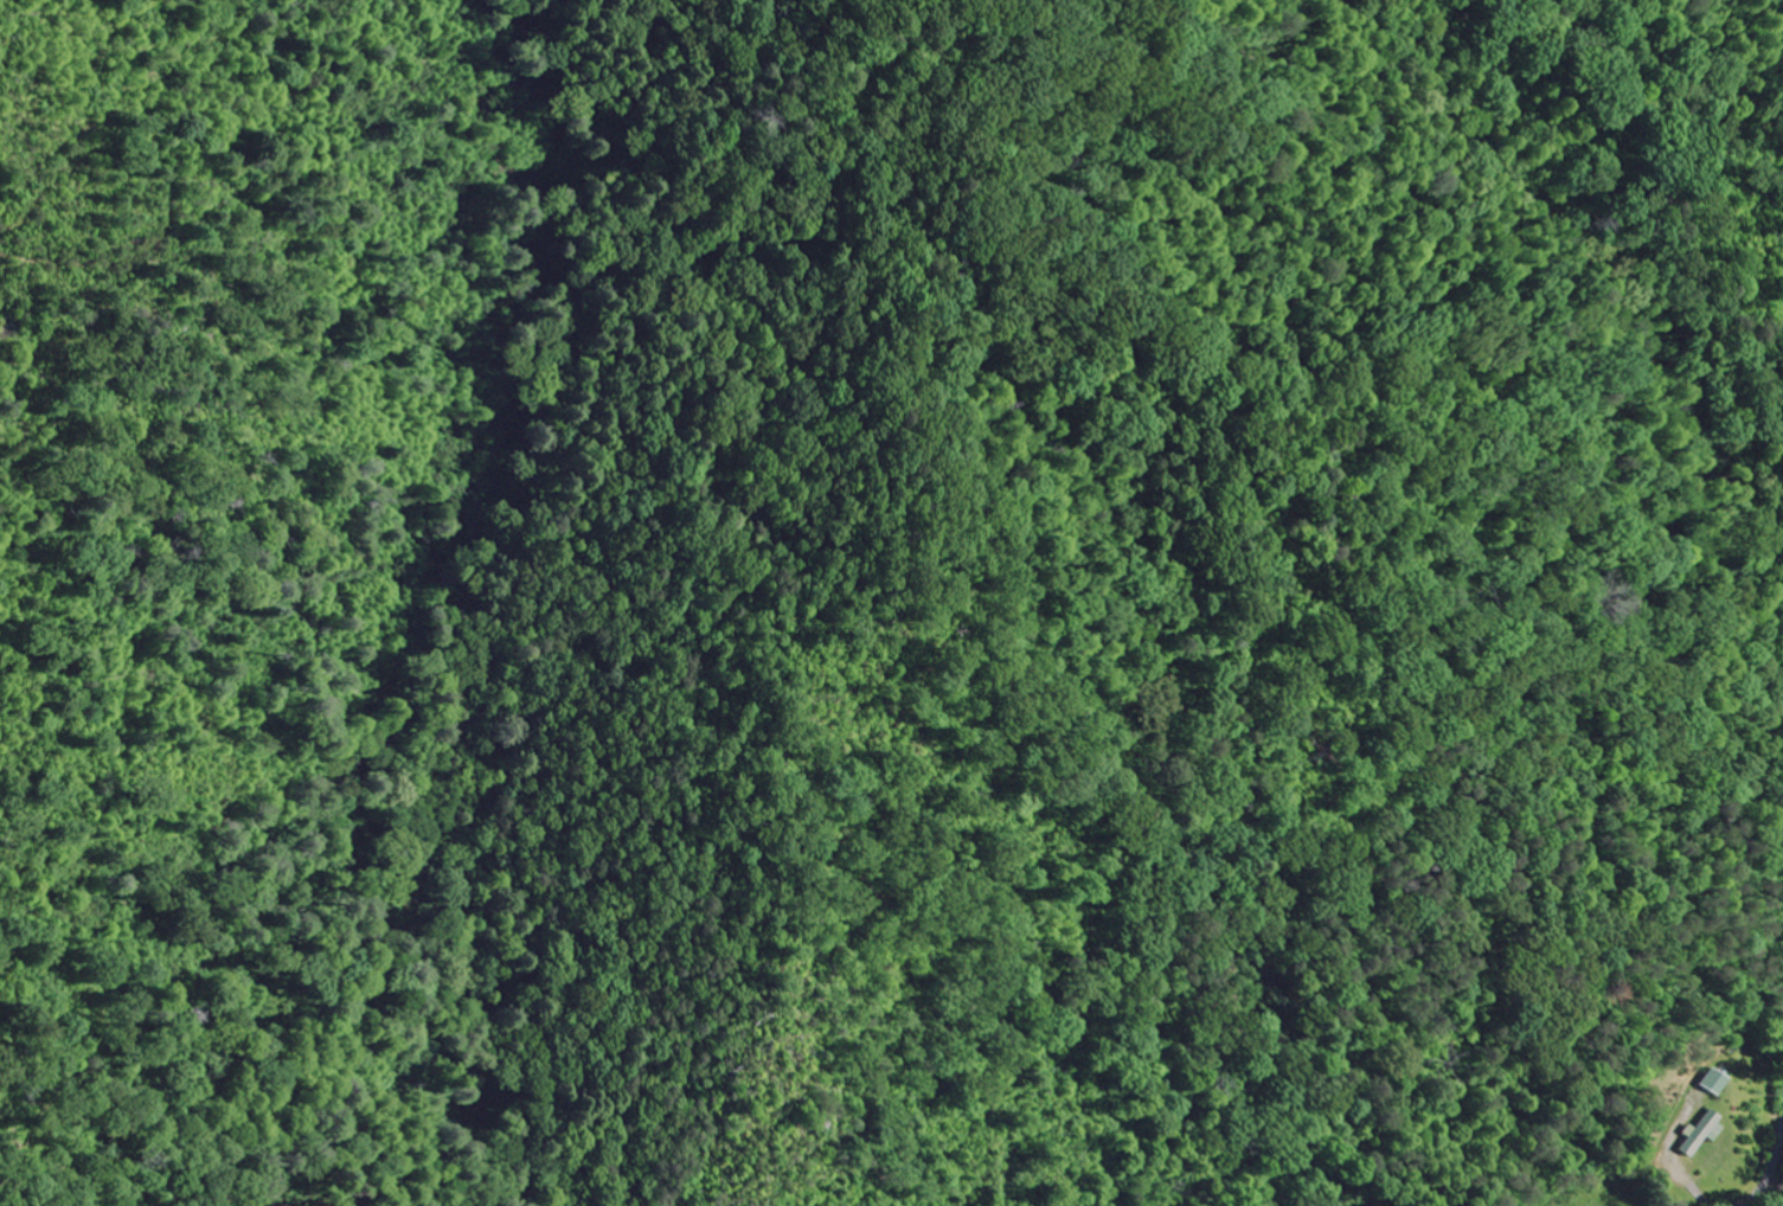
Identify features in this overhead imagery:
building: (1723, 1080)
building: (1707, 1131)

